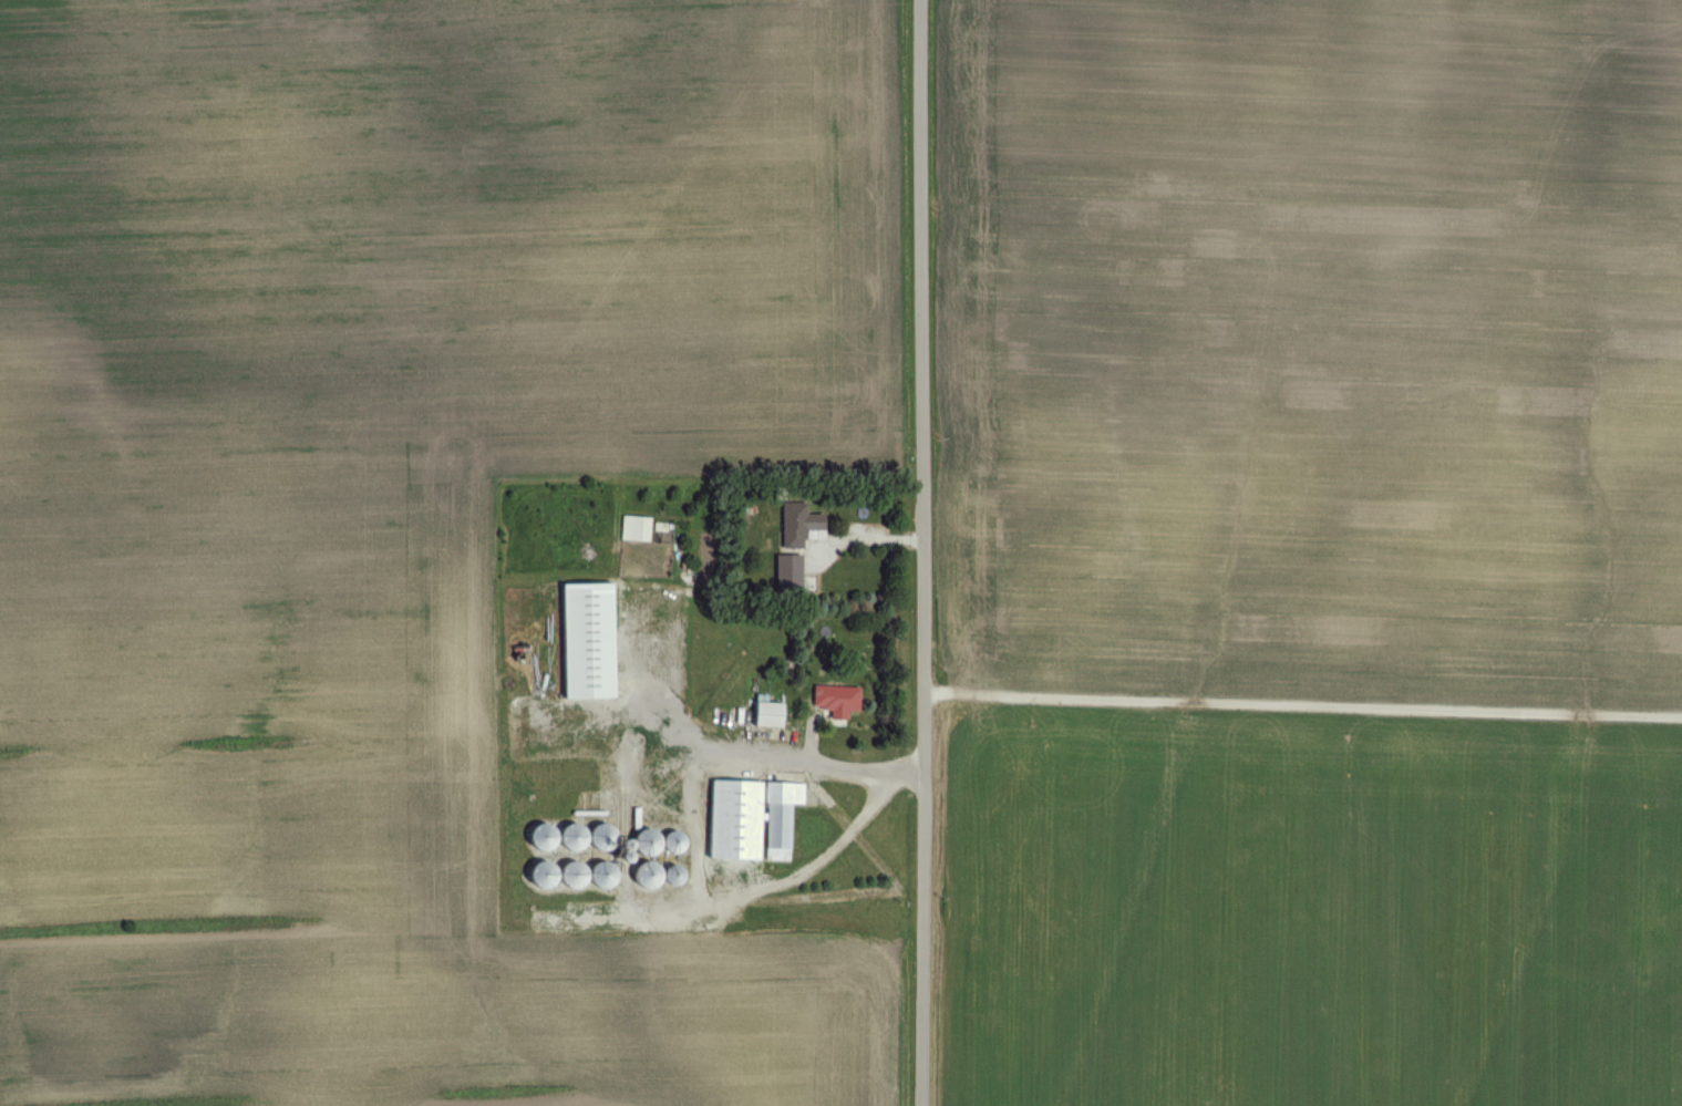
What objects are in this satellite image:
building: (803, 525)
building: (639, 529)
road: (922, 552)
building: (794, 571)
building: (596, 642)
road: (1302, 700)
building: (842, 701)
building: (773, 715)
road: (811, 767)
building: (760, 820)

